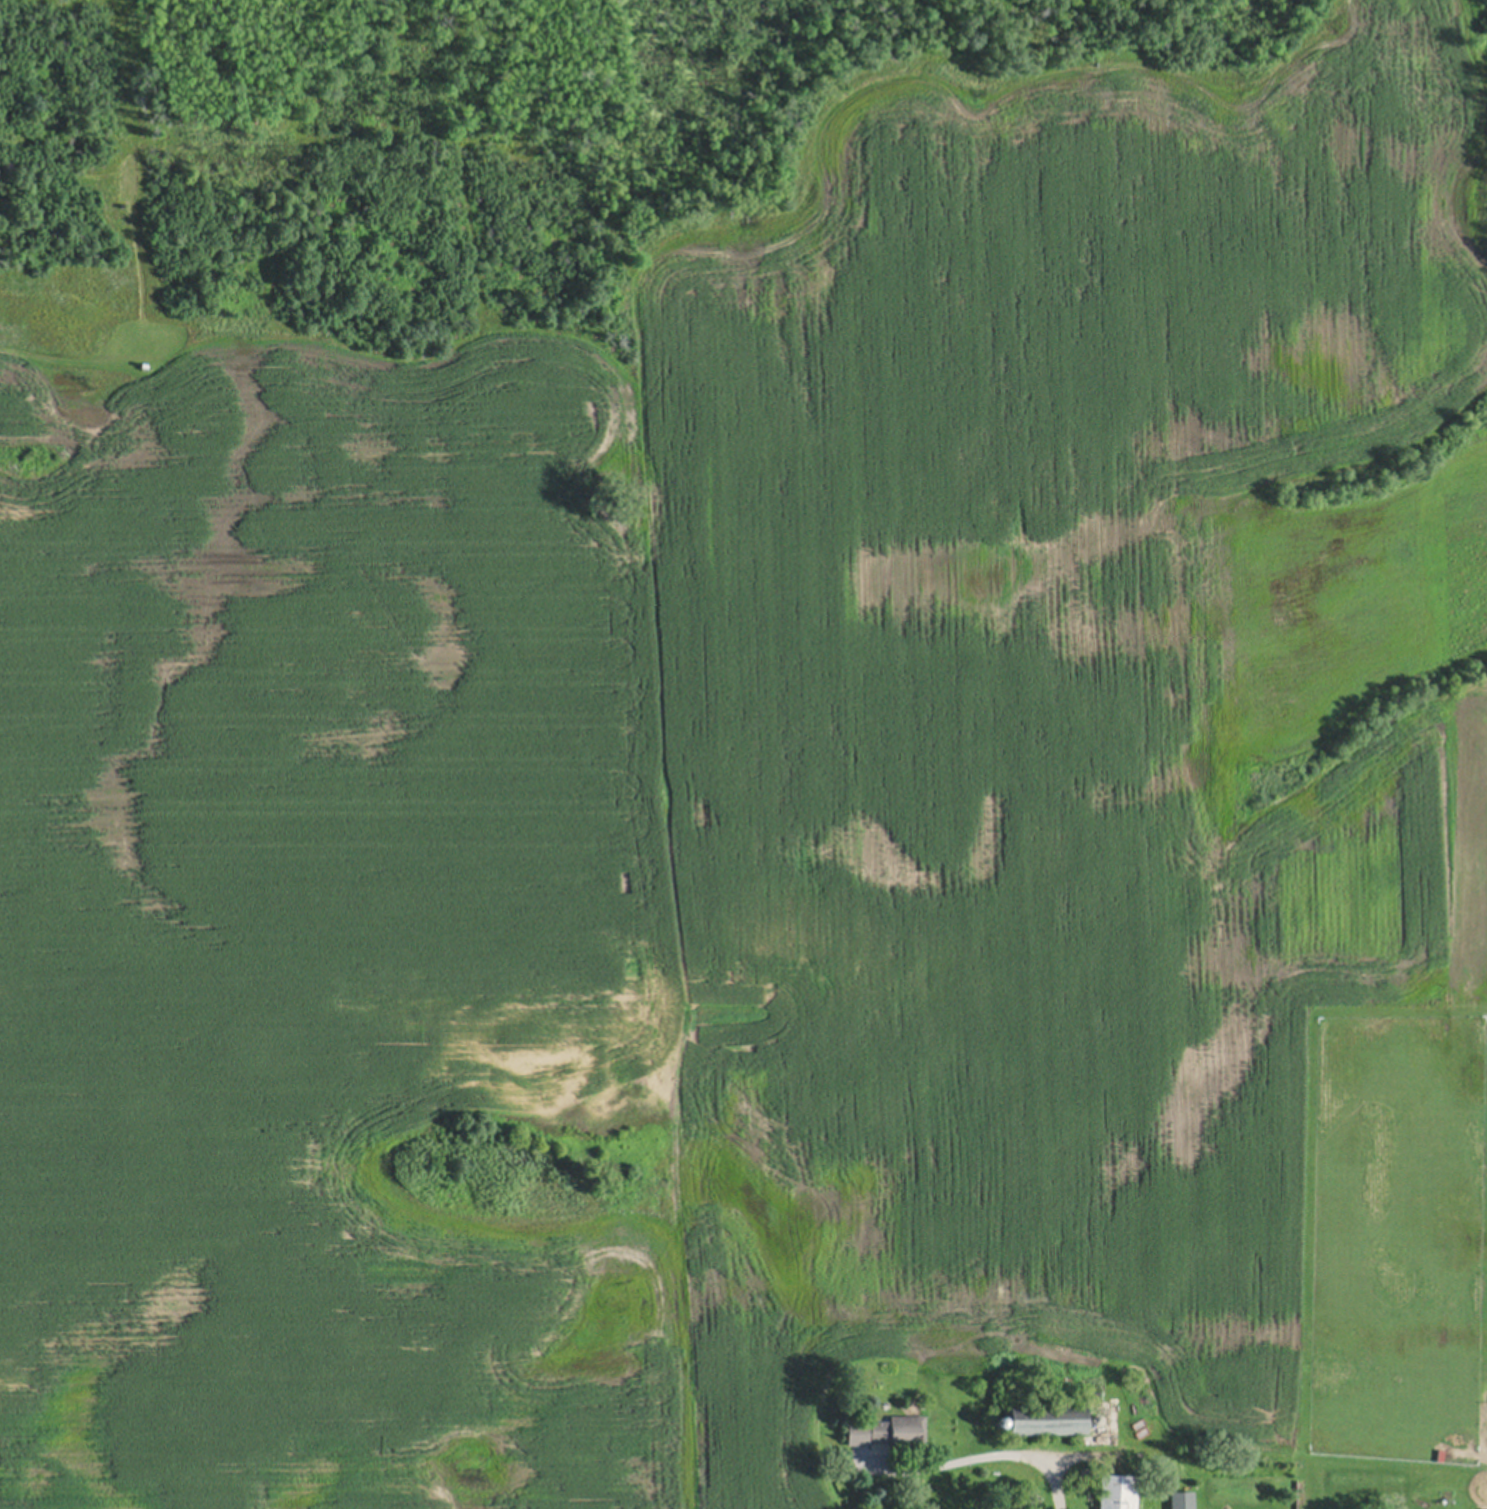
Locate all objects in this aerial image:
building: (1128, 1391)
building: (1046, 1416)
building: (1094, 1416)
building: (1001, 1419)
building: (889, 1429)
building: (1118, 1429)
building: (1095, 1440)
building: (1084, 1475)
building: (1117, 1490)
building: (1182, 1498)
building: (1485, 1508)

